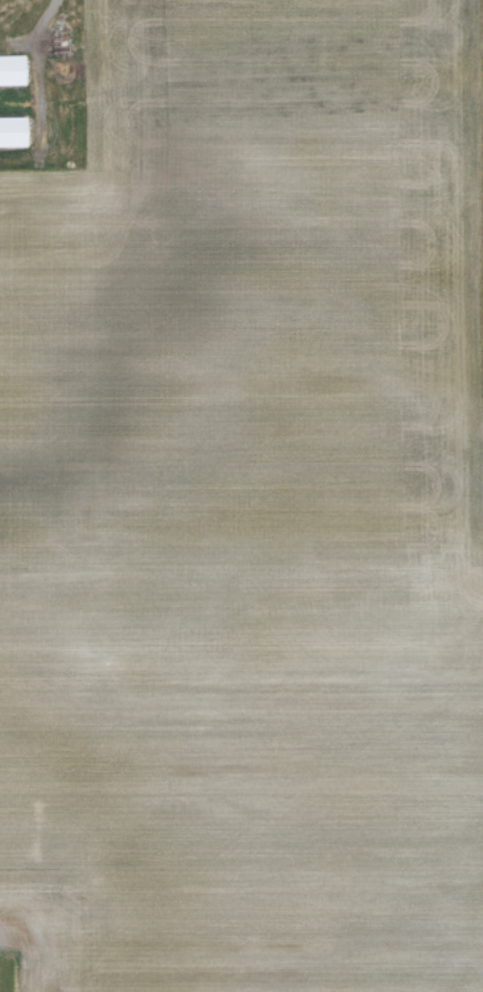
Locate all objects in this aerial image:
road: (43, 19)
building: (13, 131)

